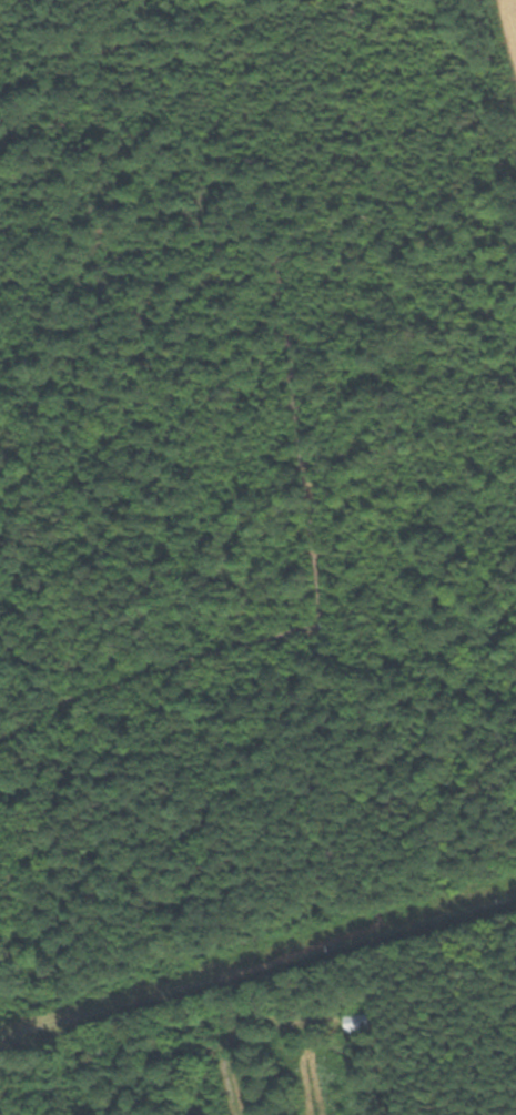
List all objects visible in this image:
building: (358, 1022)

